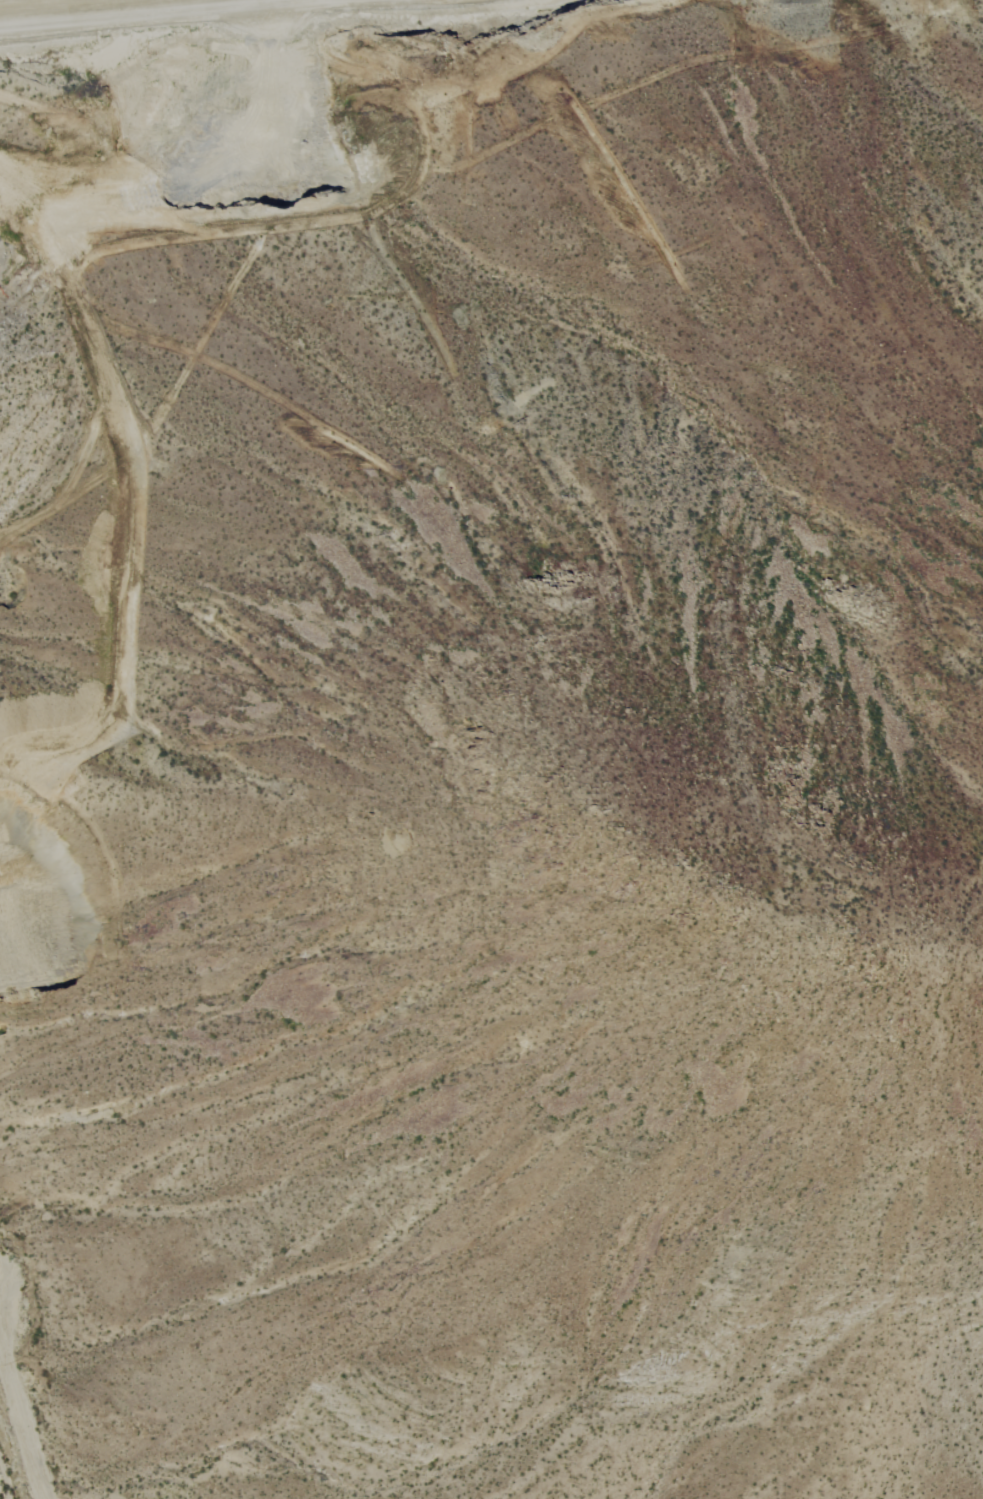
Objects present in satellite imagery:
road: (112, 9)

